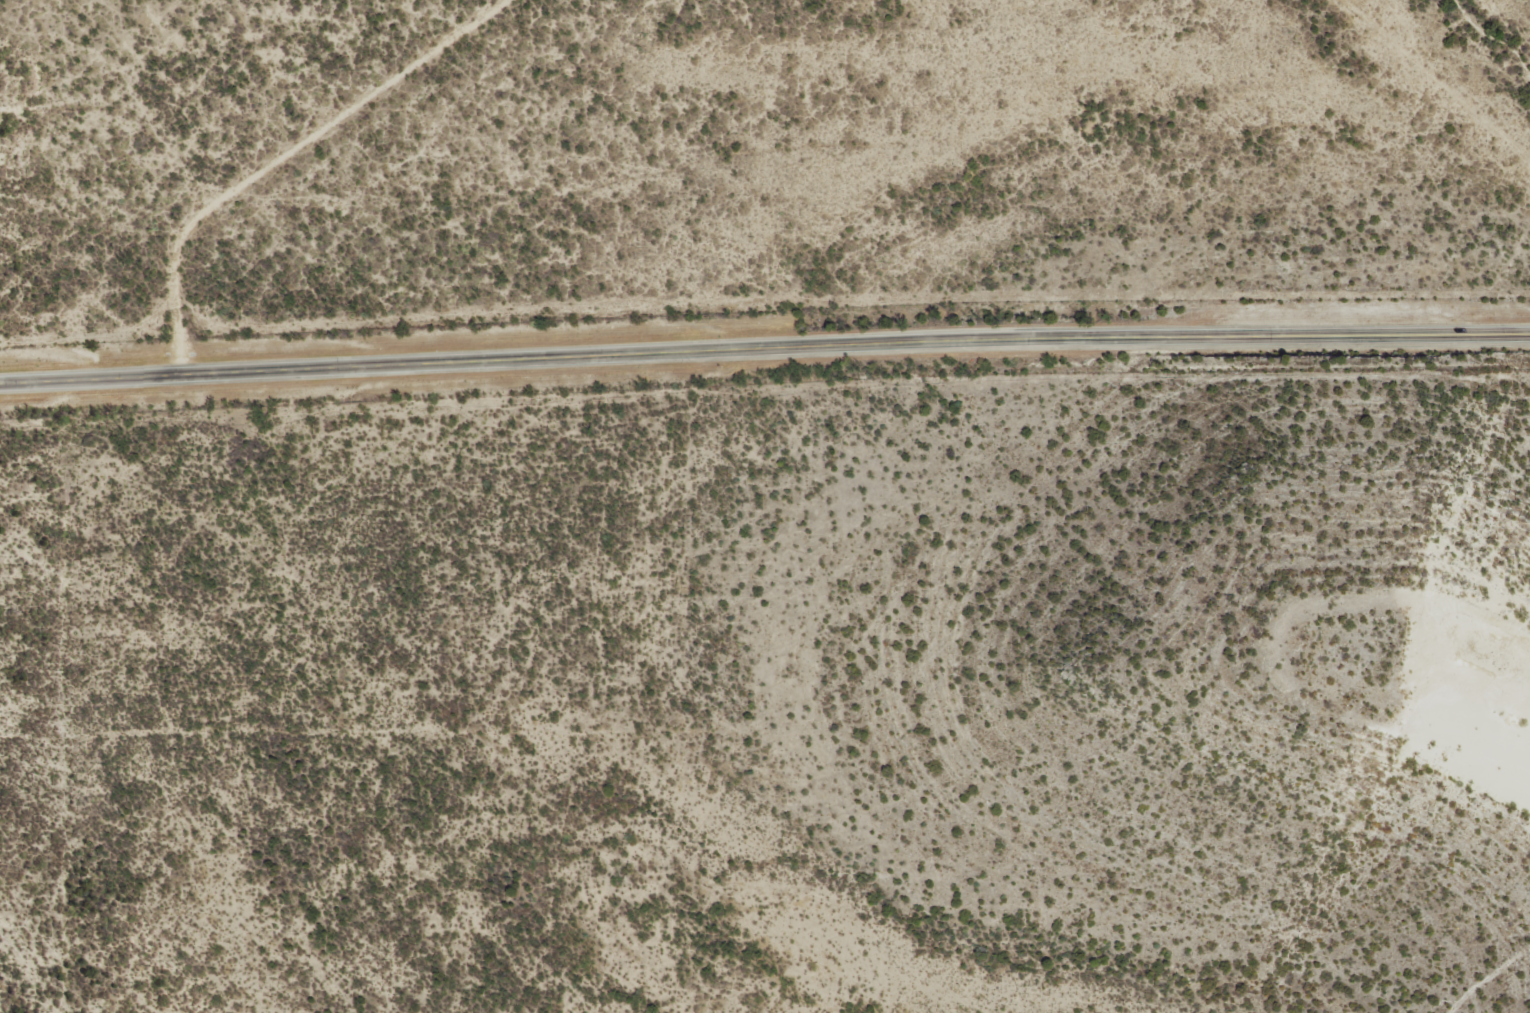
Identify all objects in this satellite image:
road: (764, 349)

